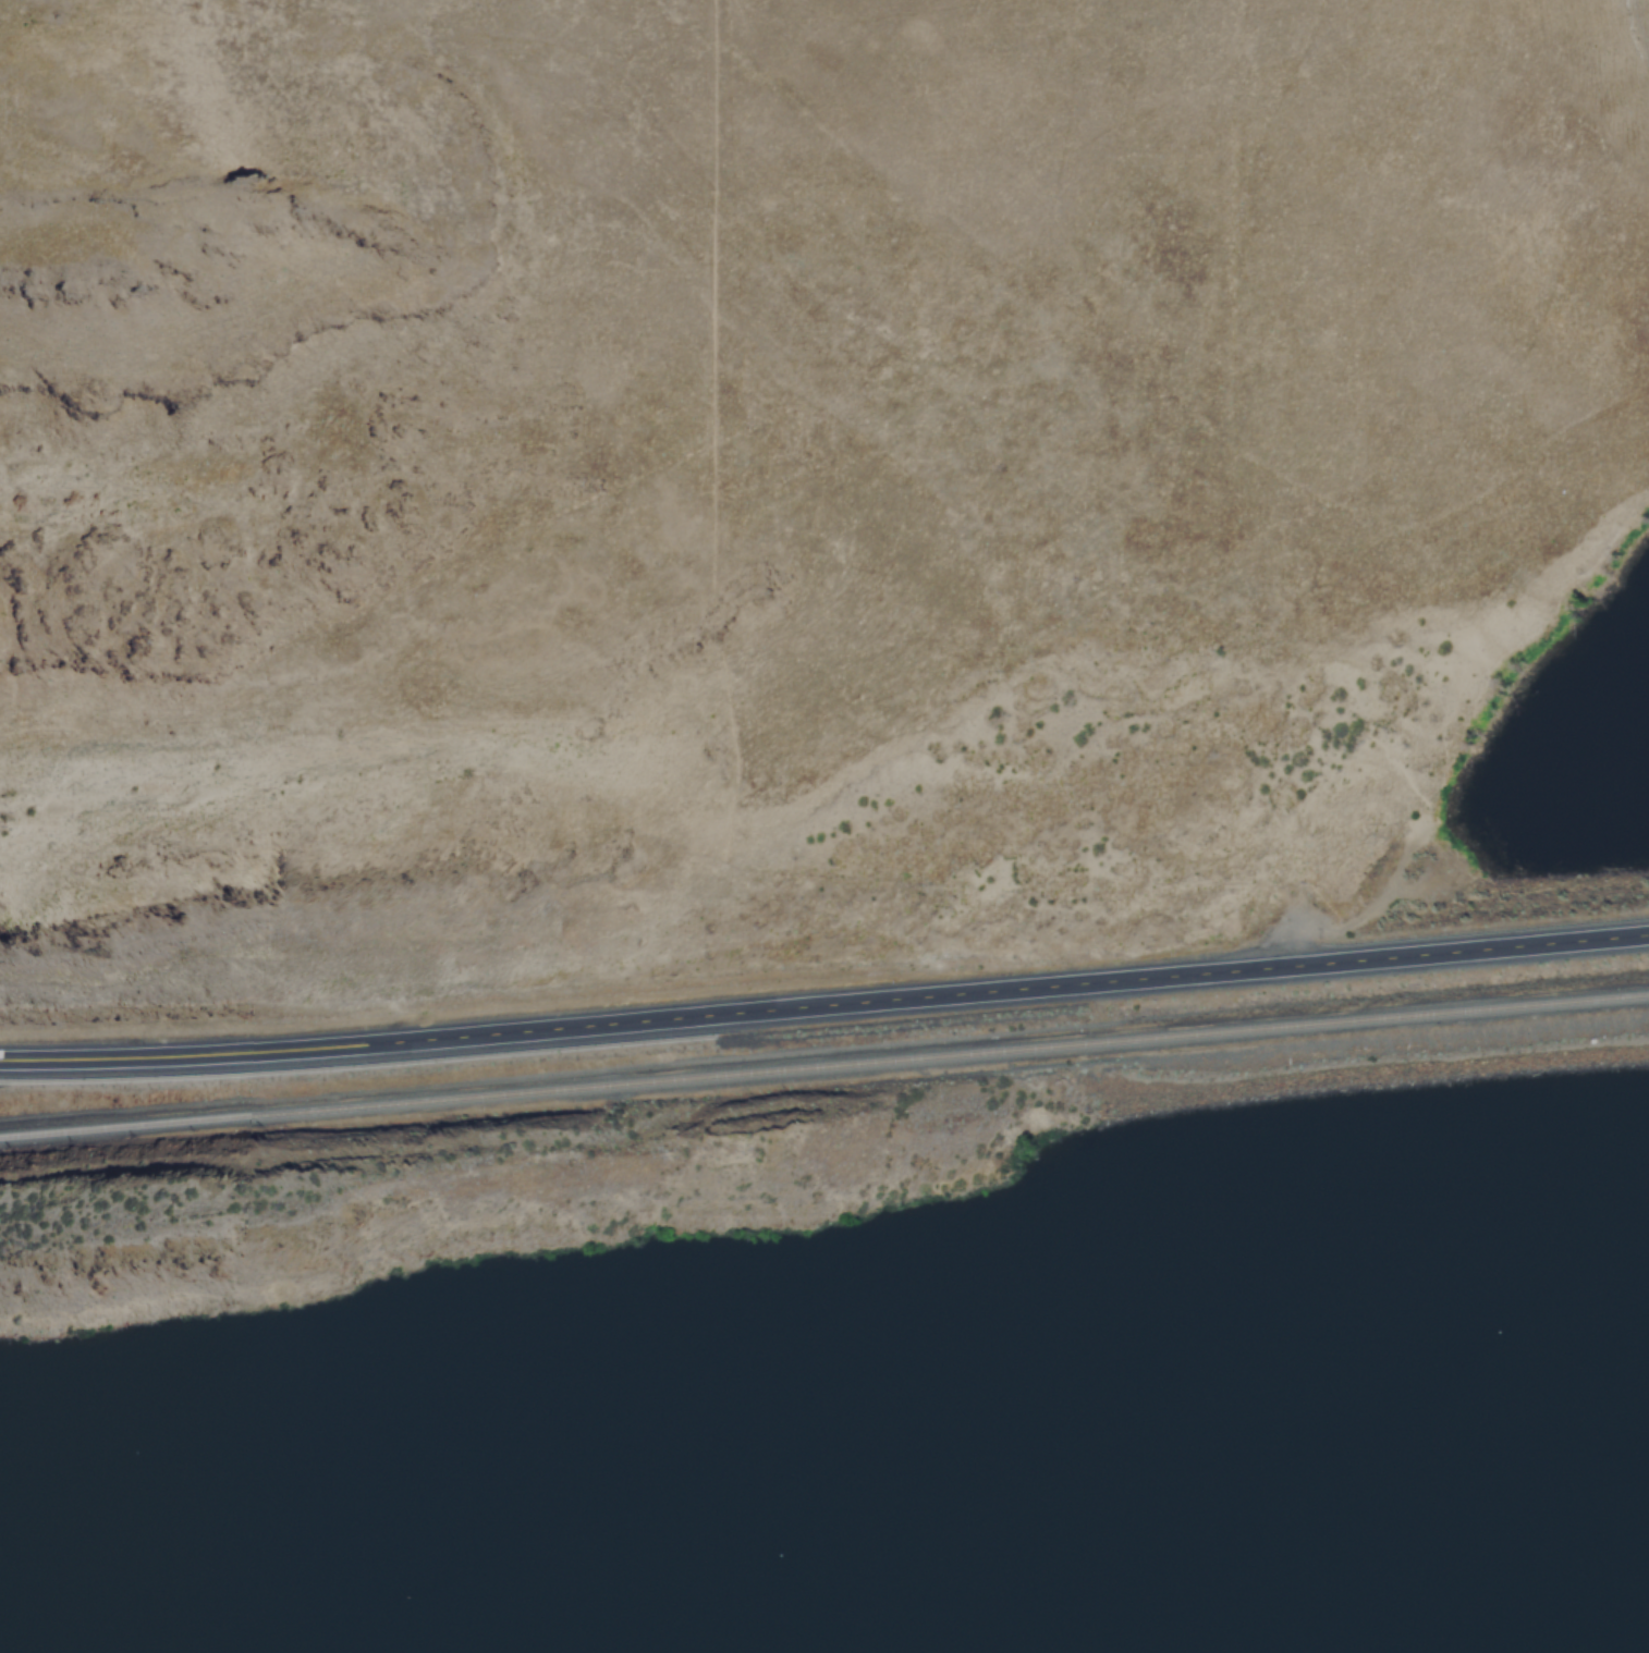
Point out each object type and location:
road: (824, 1014)
railway: (823, 1065)

